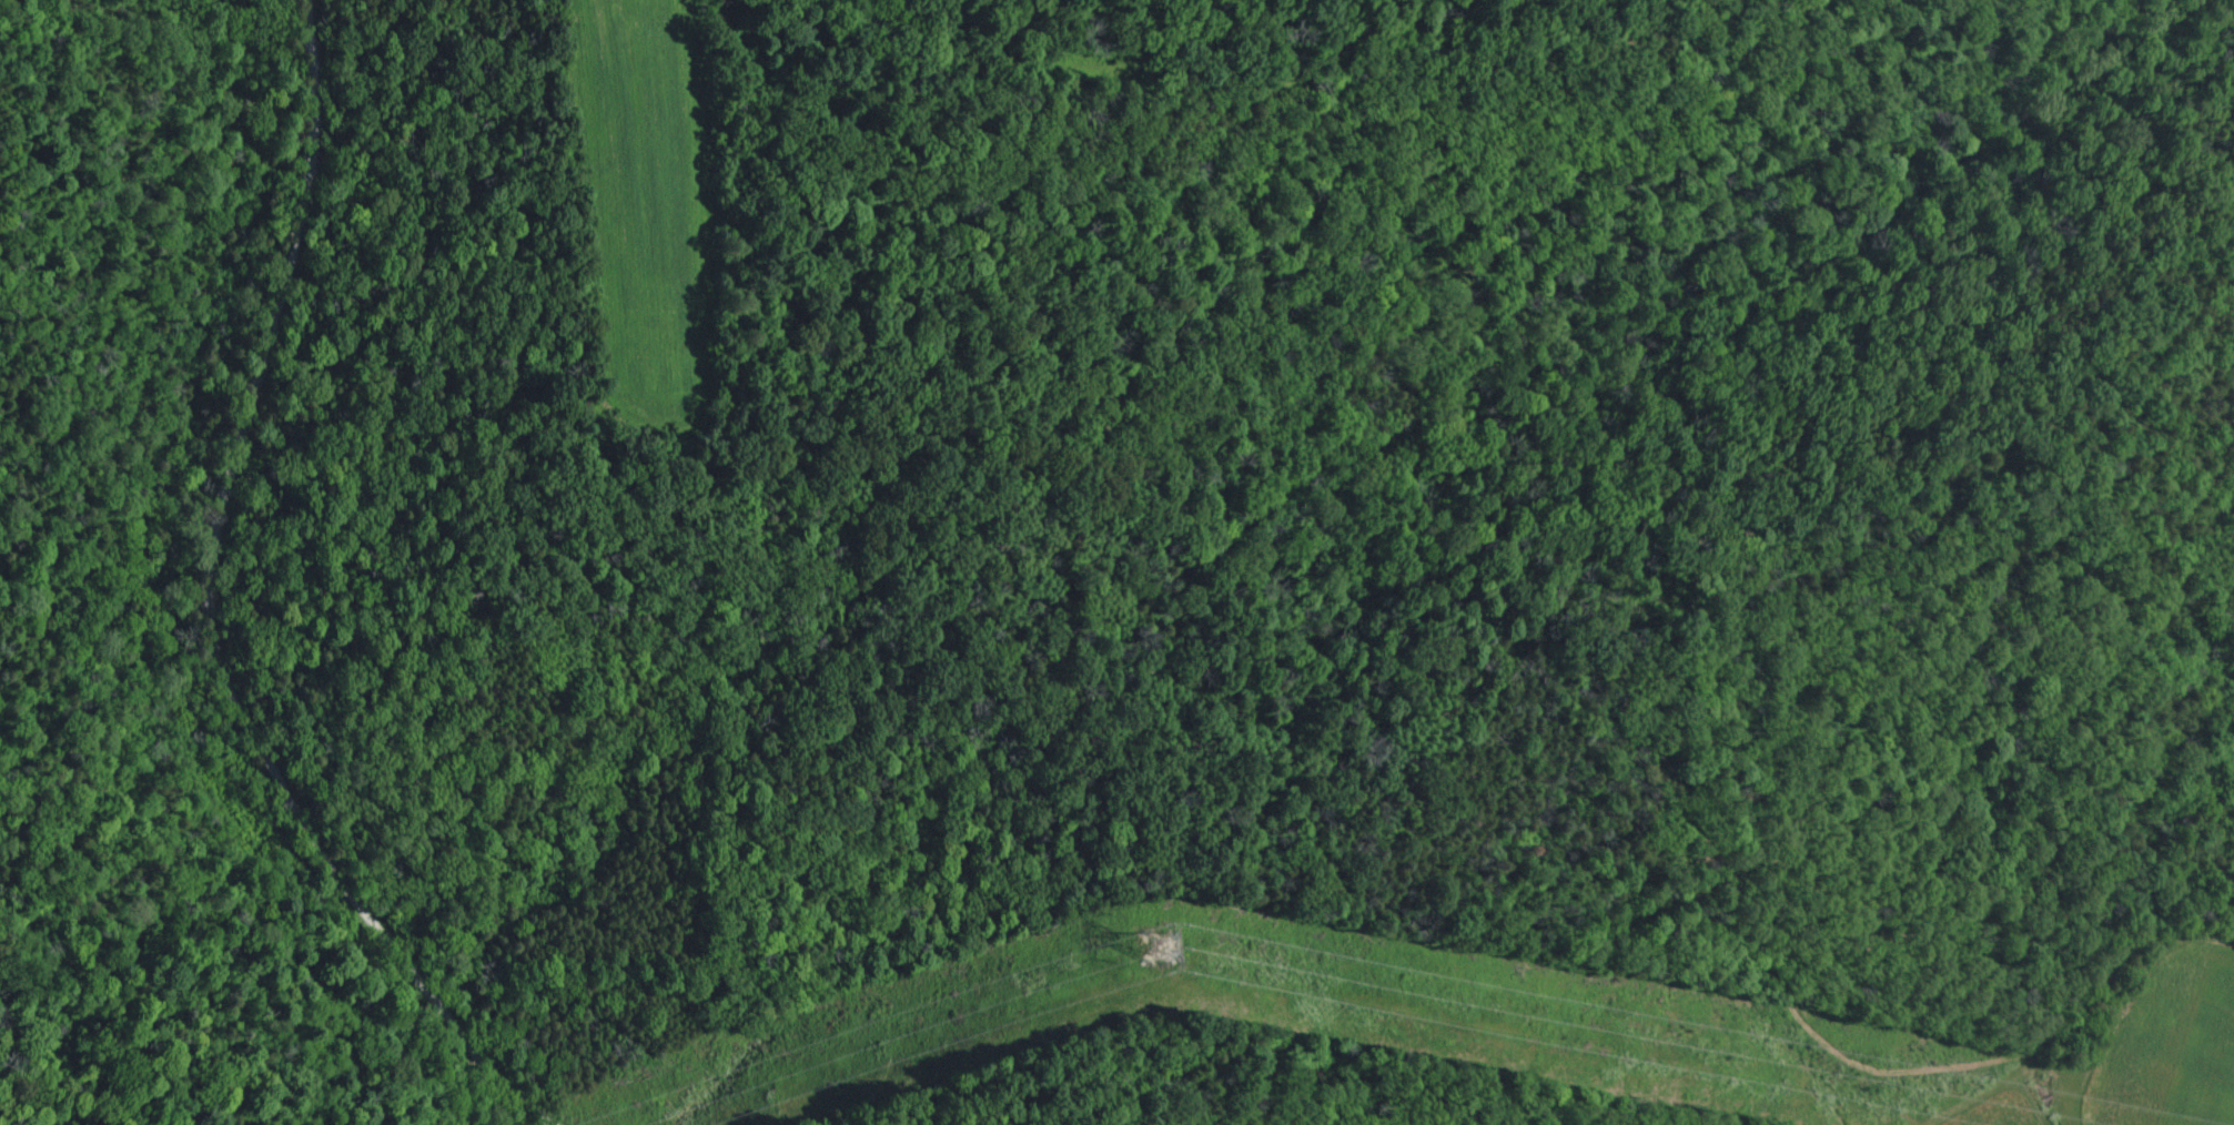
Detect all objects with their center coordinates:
road: (206, 615)
power tower: (1162, 949)
crop: (2151, 1046)

